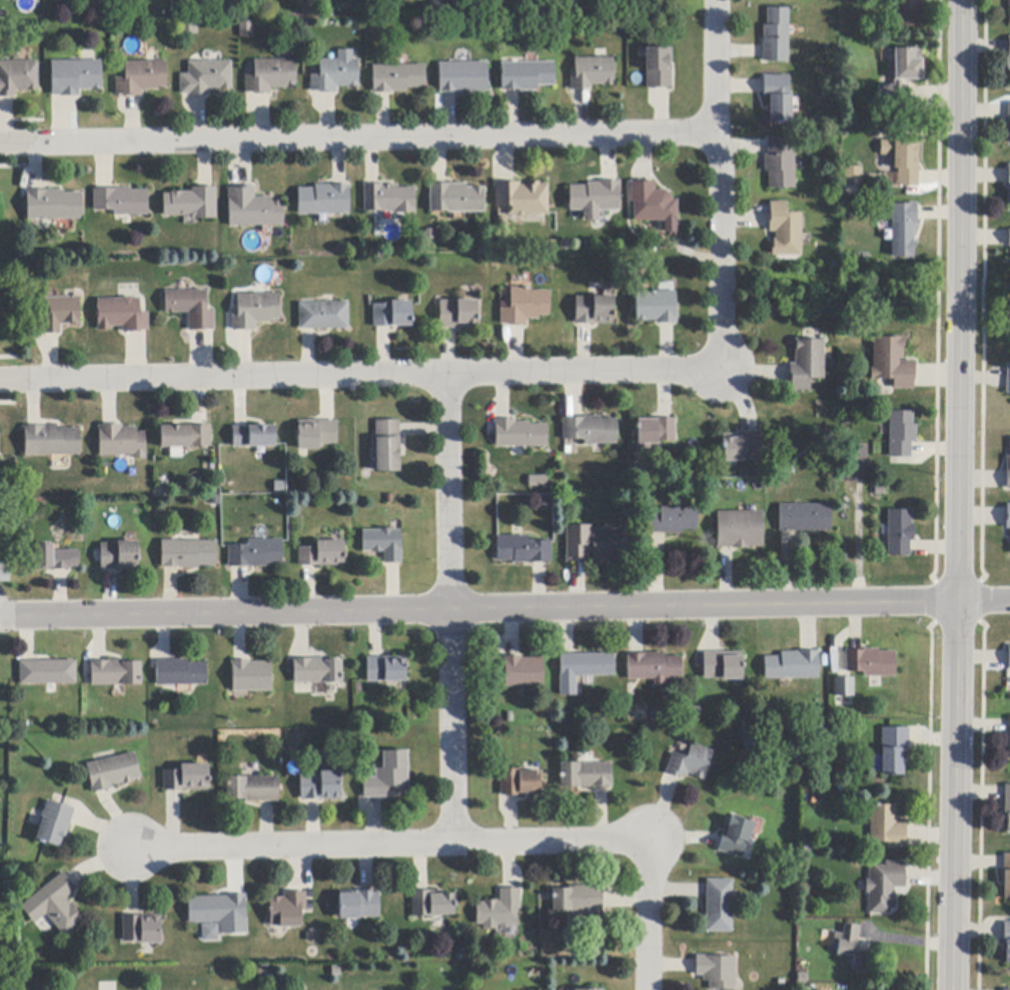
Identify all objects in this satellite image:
building: (908, 13)
building: (1009, 13)
building: (189, 29)
building: (247, 30)
building: (775, 36)
building: (1009, 53)
building: (658, 67)
building: (592, 73)
building: (336, 75)
building: (271, 76)
building: (527, 76)
building: (18, 77)
building: (75, 77)
building: (142, 78)
building: (206, 78)
building: (398, 78)
building: (463, 78)
building: (901, 81)
building: (777, 98)
building: (1009, 111)
road: (359, 136)
building: (903, 161)
building: (779, 163)
building: (852, 176)
road: (718, 184)
building: (1008, 185)
building: (595, 197)
building: (456, 198)
building: (388, 199)
building: (523, 199)
building: (324, 200)
building: (122, 201)
building: (192, 203)
building: (651, 203)
building: (54, 205)
building: (253, 209)
building: (902, 230)
building: (783, 231)
building: (1008, 238)
building: (525, 306)
building: (656, 307)
building: (191, 308)
building: (593, 310)
building: (256, 311)
building: (57, 314)
building: (458, 314)
building: (122, 315)
building: (392, 315)
building: (324, 316)
building: (891, 363)
building: (806, 364)
road: (359, 375)
building: (1008, 380)
building: (591, 430)
building: (656, 431)
building: (317, 434)
building: (520, 434)
building: (901, 434)
building: (186, 436)
building: (254, 436)
building: (52, 441)
building: (122, 441)
building: (388, 446)
building: (742, 447)
building: (853, 463)
building: (1008, 473)
building: (537, 480)
road: (959, 495)
building: (1008, 517)
building: (804, 518)
building: (673, 521)
building: (740, 530)
building: (900, 533)
building: (384, 544)
building: (596, 544)
building: (1009, 545)
building: (523, 550)
building: (189, 554)
building: (256, 554)
building: (323, 554)
building: (119, 556)
building: (55, 558)
building: (5, 574)
road: (451, 608)
road: (504, 609)
building: (1009, 658)
building: (831, 663)
building: (870, 663)
building: (723, 666)
building: (792, 666)
building: (653, 668)
building: (387, 669)
building: (583, 670)
building: (317, 671)
building: (47, 672)
building: (524, 672)
building: (116, 673)
building: (181, 673)
building: (252, 676)
building: (844, 687)
building: (1009, 732)
building: (893, 750)
building: (691, 763)
building: (113, 772)
building: (586, 775)
building: (389, 776)
building: (187, 778)
building: (520, 782)
building: (321, 786)
building: (253, 789)
building: (1007, 807)
building: (55, 824)
building: (887, 827)
building: (736, 837)
road: (392, 844)
building: (1006, 876)
building: (884, 886)
building: (578, 899)
building: (433, 904)
building: (359, 905)
building: (55, 906)
building: (719, 906)
building: (288, 910)
building: (499, 910)
building: (220, 913)
road: (651, 916)
building: (142, 929)
building: (208, 931)
building: (1007, 943)
building: (851, 948)
building: (717, 971)
building: (586, 989)
building: (1005, 989)

